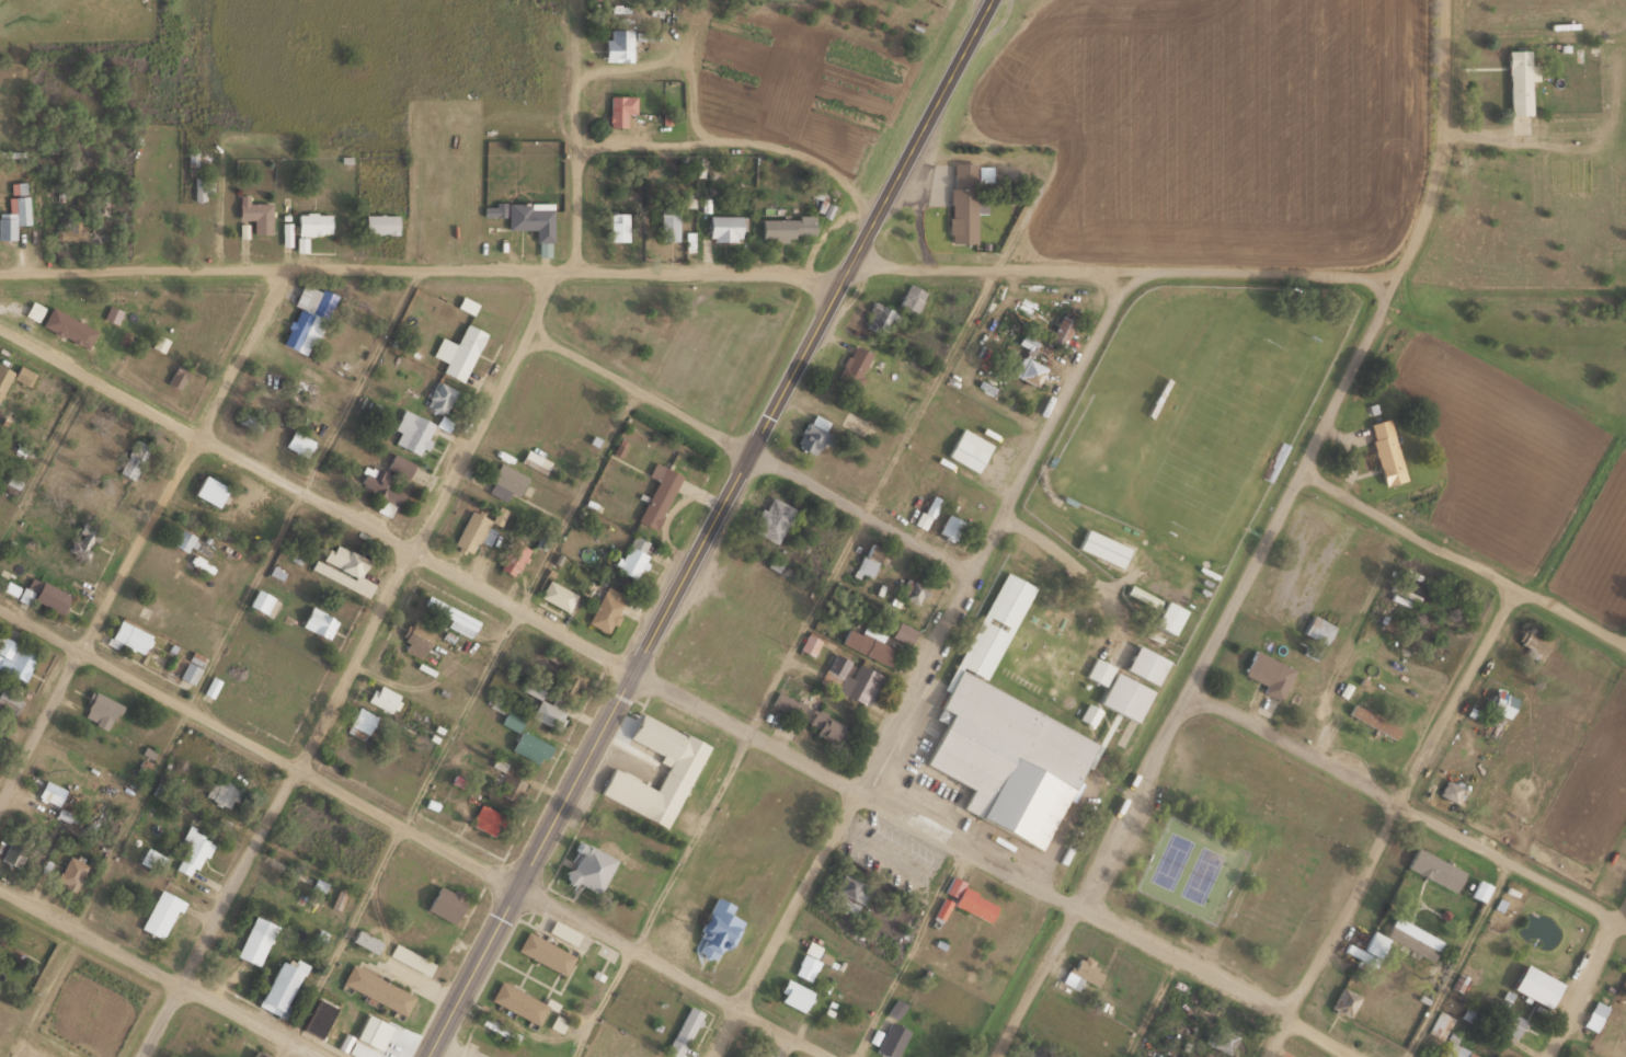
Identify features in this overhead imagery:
building: (617, 44)
building: (1519, 81)
building: (628, 112)
road: (577, 134)
road: (1439, 145)
building: (202, 188)
building: (965, 198)
building: (493, 209)
building: (829, 209)
building: (255, 214)
building: (12, 217)
building: (533, 221)
building: (313, 222)
building: (381, 222)
building: (667, 225)
building: (618, 226)
building: (787, 226)
building: (725, 228)
road: (696, 266)
building: (911, 297)
building: (879, 317)
building: (307, 318)
building: (67, 326)
building: (1062, 330)
building: (458, 348)
building: (1029, 363)
building: (15, 376)
building: (178, 376)
building: (439, 397)
building: (1171, 402)
building: (250, 421)
park: (1207, 428)
building: (413, 430)
building: (812, 433)
building: (299, 443)
building: (1386, 450)
road: (753, 452)
building: (966, 453)
building: (133, 459)
building: (400, 464)
building: (505, 481)
building: (380, 490)
building: (210, 491)
building: (657, 494)
building: (928, 512)
building: (772, 518)
road: (707, 527)
building: (950, 527)
building: (470, 532)
building: (184, 540)
road: (145, 543)
building: (1104, 548)
building: (632, 555)
road: (1464, 556)
building: (513, 558)
building: (342, 564)
building: (866, 566)
building: (913, 590)
building: (44, 594)
building: (558, 595)
building: (1144, 596)
building: (263, 602)
building: (607, 609)
building: (451, 616)
building: (1169, 617)
building: (319, 622)
building: (1317, 630)
building: (128, 637)
building: (415, 639)
building: (1534, 640)
building: (868, 643)
building: (810, 644)
building: (15, 657)
road: (352, 664)
building: (1146, 664)
road: (924, 665)
building: (188, 671)
road: (1200, 673)
building: (1268, 673)
building: (850, 678)
building: (569, 683)
building: (1120, 690)
road: (675, 694)
building: (383, 697)
building: (9, 701)
building: (1502, 703)
building: (100, 710)
building: (549, 713)
building: (1090, 713)
building: (363, 719)
building: (511, 721)
building: (1373, 721)
building: (825, 723)
building: (1005, 734)
building: (528, 745)
building: (676, 777)
building: (1255, 785)
building: (509, 786)
building: (222, 790)
building: (1453, 790)
building: (51, 792)
road: (1408, 804)
building: (1514, 814)
building: (486, 818)
road: (1392, 820)
road: (414, 832)
building: (191, 851)
building: (13, 853)
building: (587, 865)
park: (1189, 868)
building: (1434, 868)
building: (70, 872)
building: (1480, 889)
building: (847, 892)
building: (970, 900)
building: (444, 901)
building: (161, 912)
building: (183, 924)
building: (718, 929)
building: (563, 931)
building: (255, 939)
building: (1405, 939)
building: (366, 940)
building: (546, 951)
building: (410, 957)
building: (805, 964)
building: (1625, 972)
building: (1081, 973)
road: (152, 974)
building: (280, 983)
building: (1535, 985)
road: (1588, 987)
building: (377, 988)
building: (792, 993)
building: (518, 1001)
building: (1344, 1002)
building: (1612, 1015)
building: (317, 1016)
building: (1507, 1023)
building: (684, 1031)
building: (1442, 1034)
building: (892, 1039)
building: (356, 1046)
building: (256, 1054)

